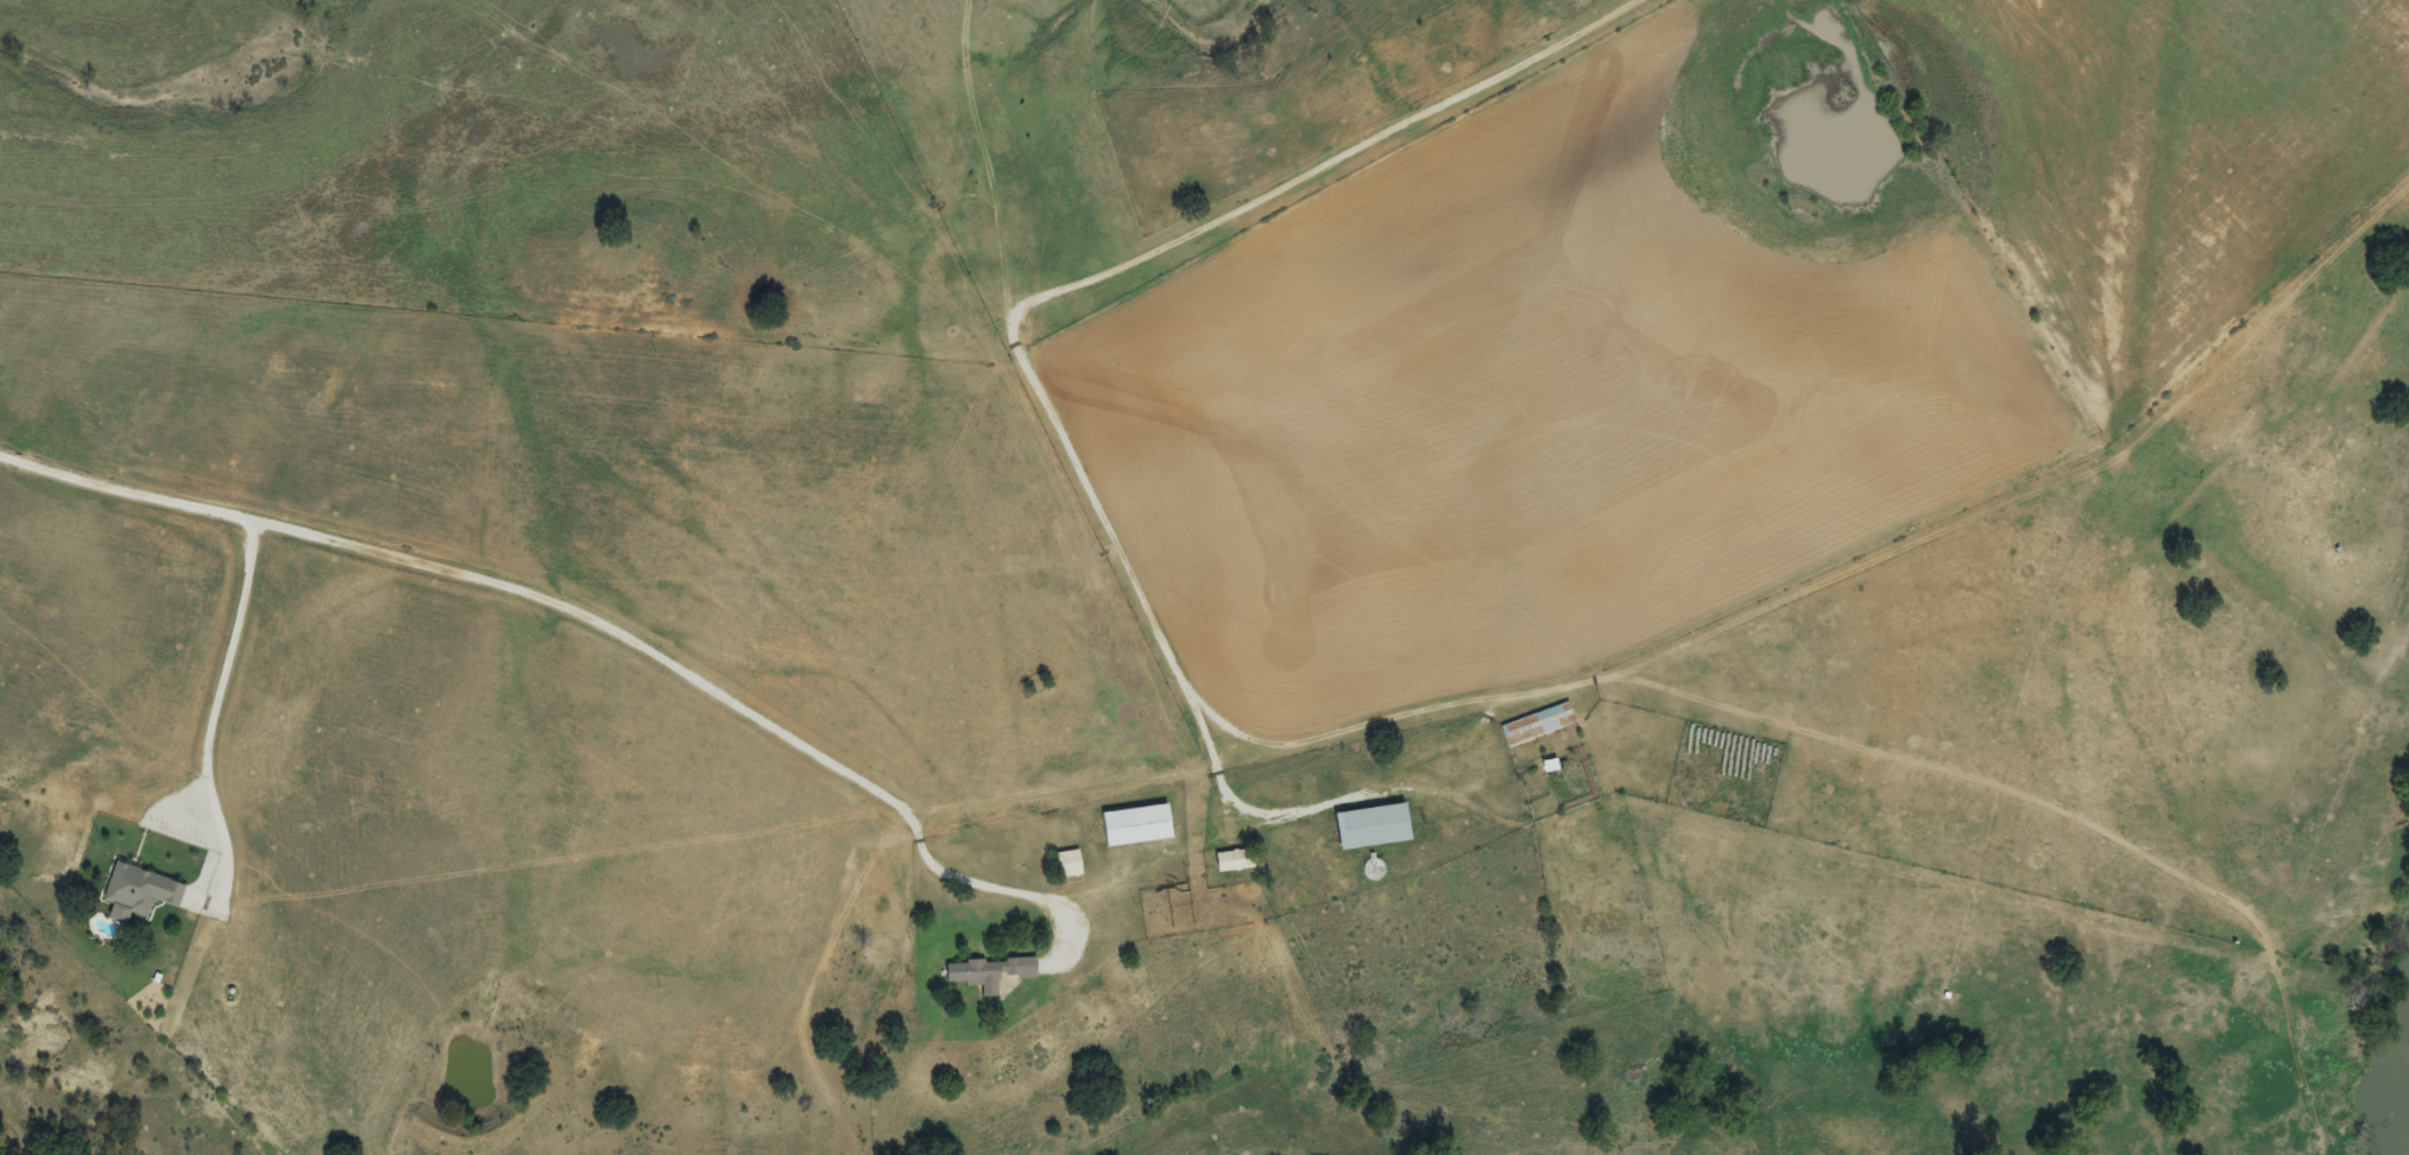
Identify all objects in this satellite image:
road: (540, 597)
building: (1533, 725)
building: (1128, 826)
building: (1363, 827)
building: (1228, 861)
building: (1061, 865)
building: (135, 891)
building: (982, 973)
river: (2392, 1075)

